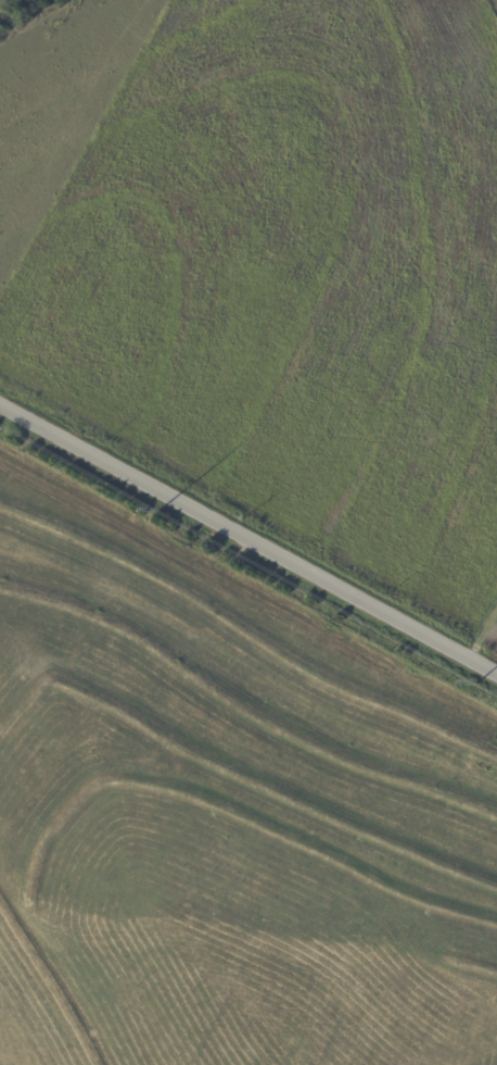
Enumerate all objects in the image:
road: (248, 538)
landfill: (225, 819)

